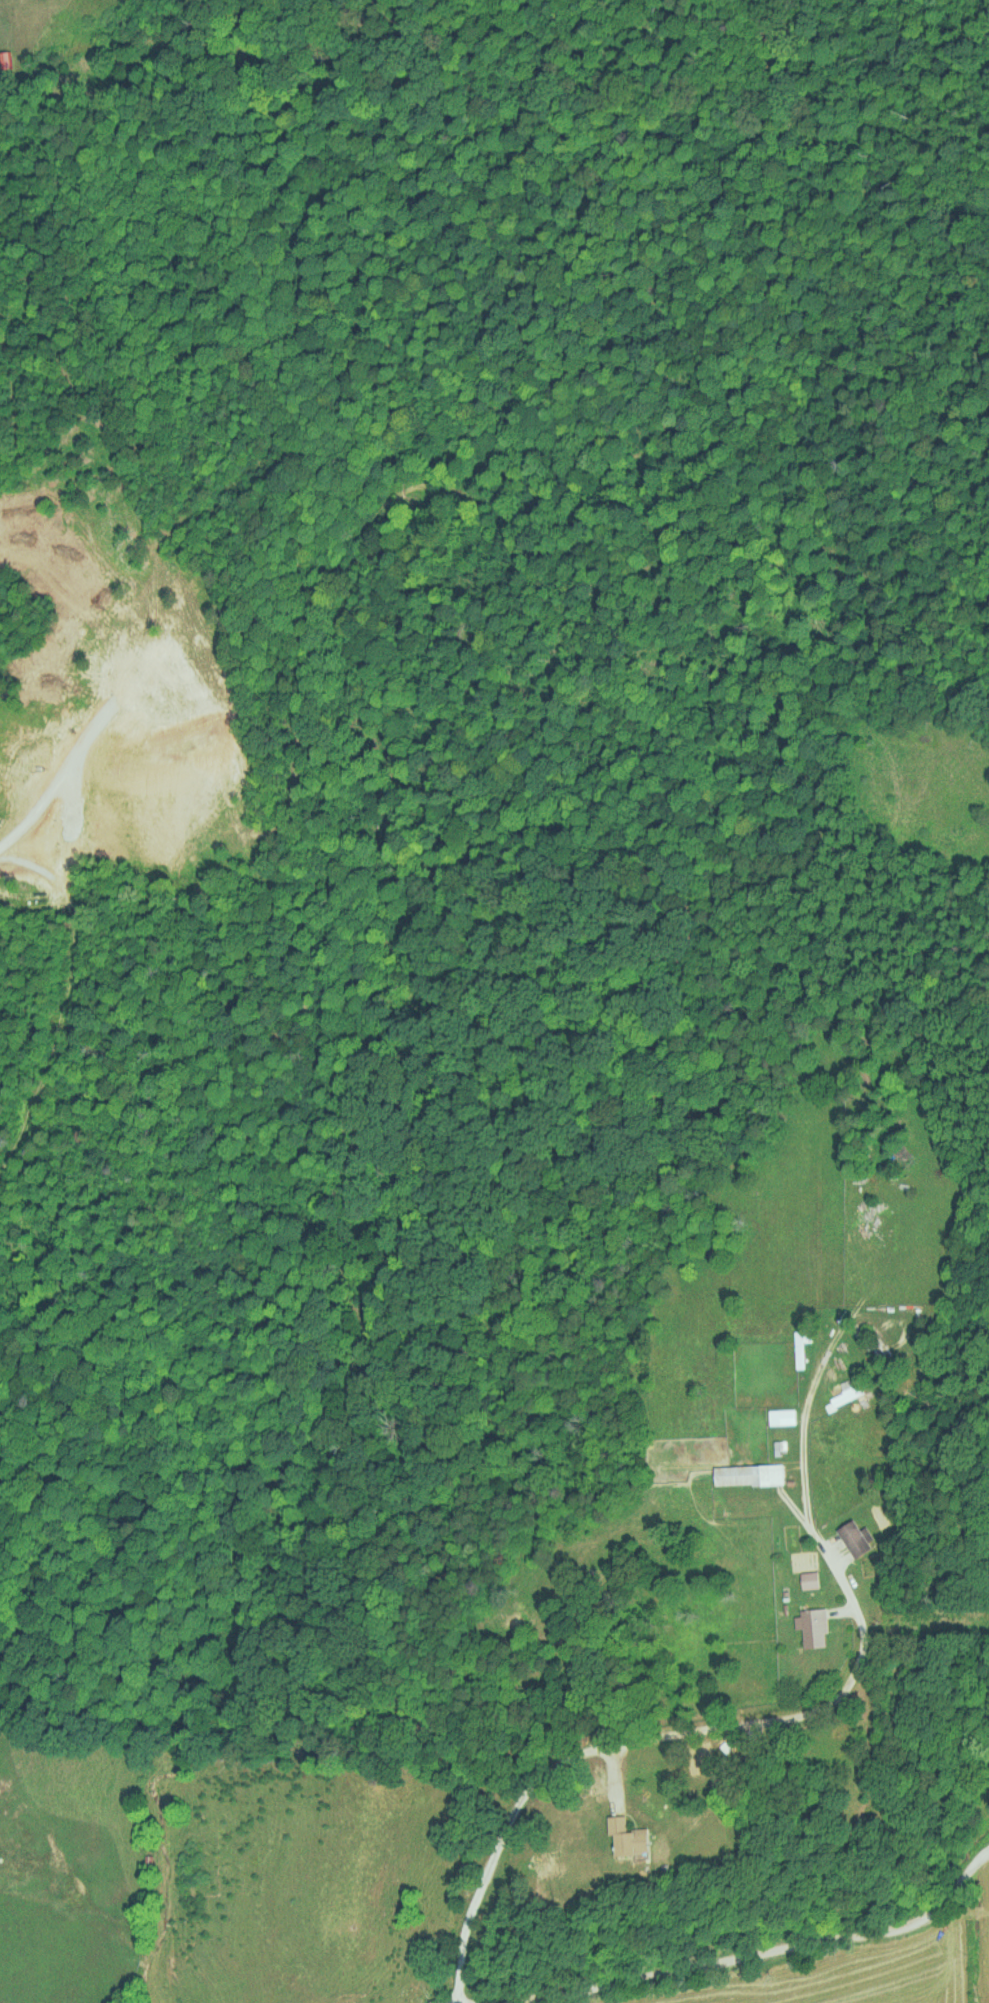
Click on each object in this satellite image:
building: (798, 1349)
building: (846, 1395)
building: (747, 1475)
building: (854, 1537)
building: (809, 1579)
building: (812, 1626)
road: (772, 1721)
road: (746, 1949)

